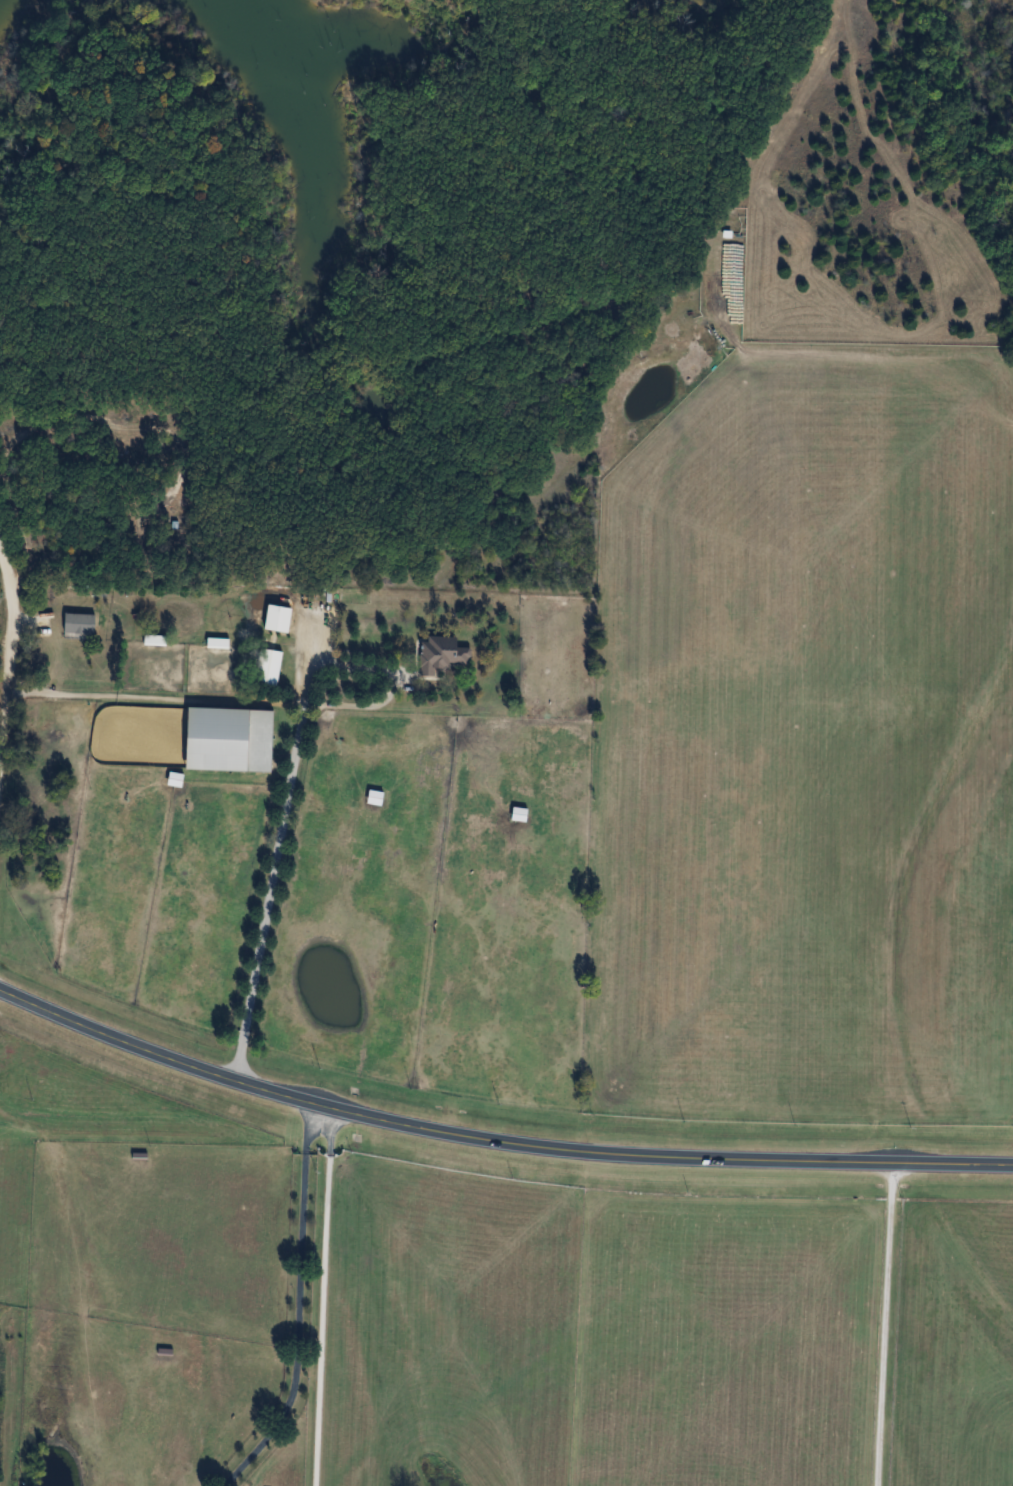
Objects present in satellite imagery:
building: (275, 619)
building: (77, 624)
road: (4, 625)
building: (439, 655)
building: (266, 669)
road: (391, 689)
road: (152, 695)
building: (226, 740)
building: (373, 798)
building: (517, 814)
road: (274, 857)
road: (494, 1140)
road: (323, 1297)
road: (299, 1306)
road: (885, 1324)

